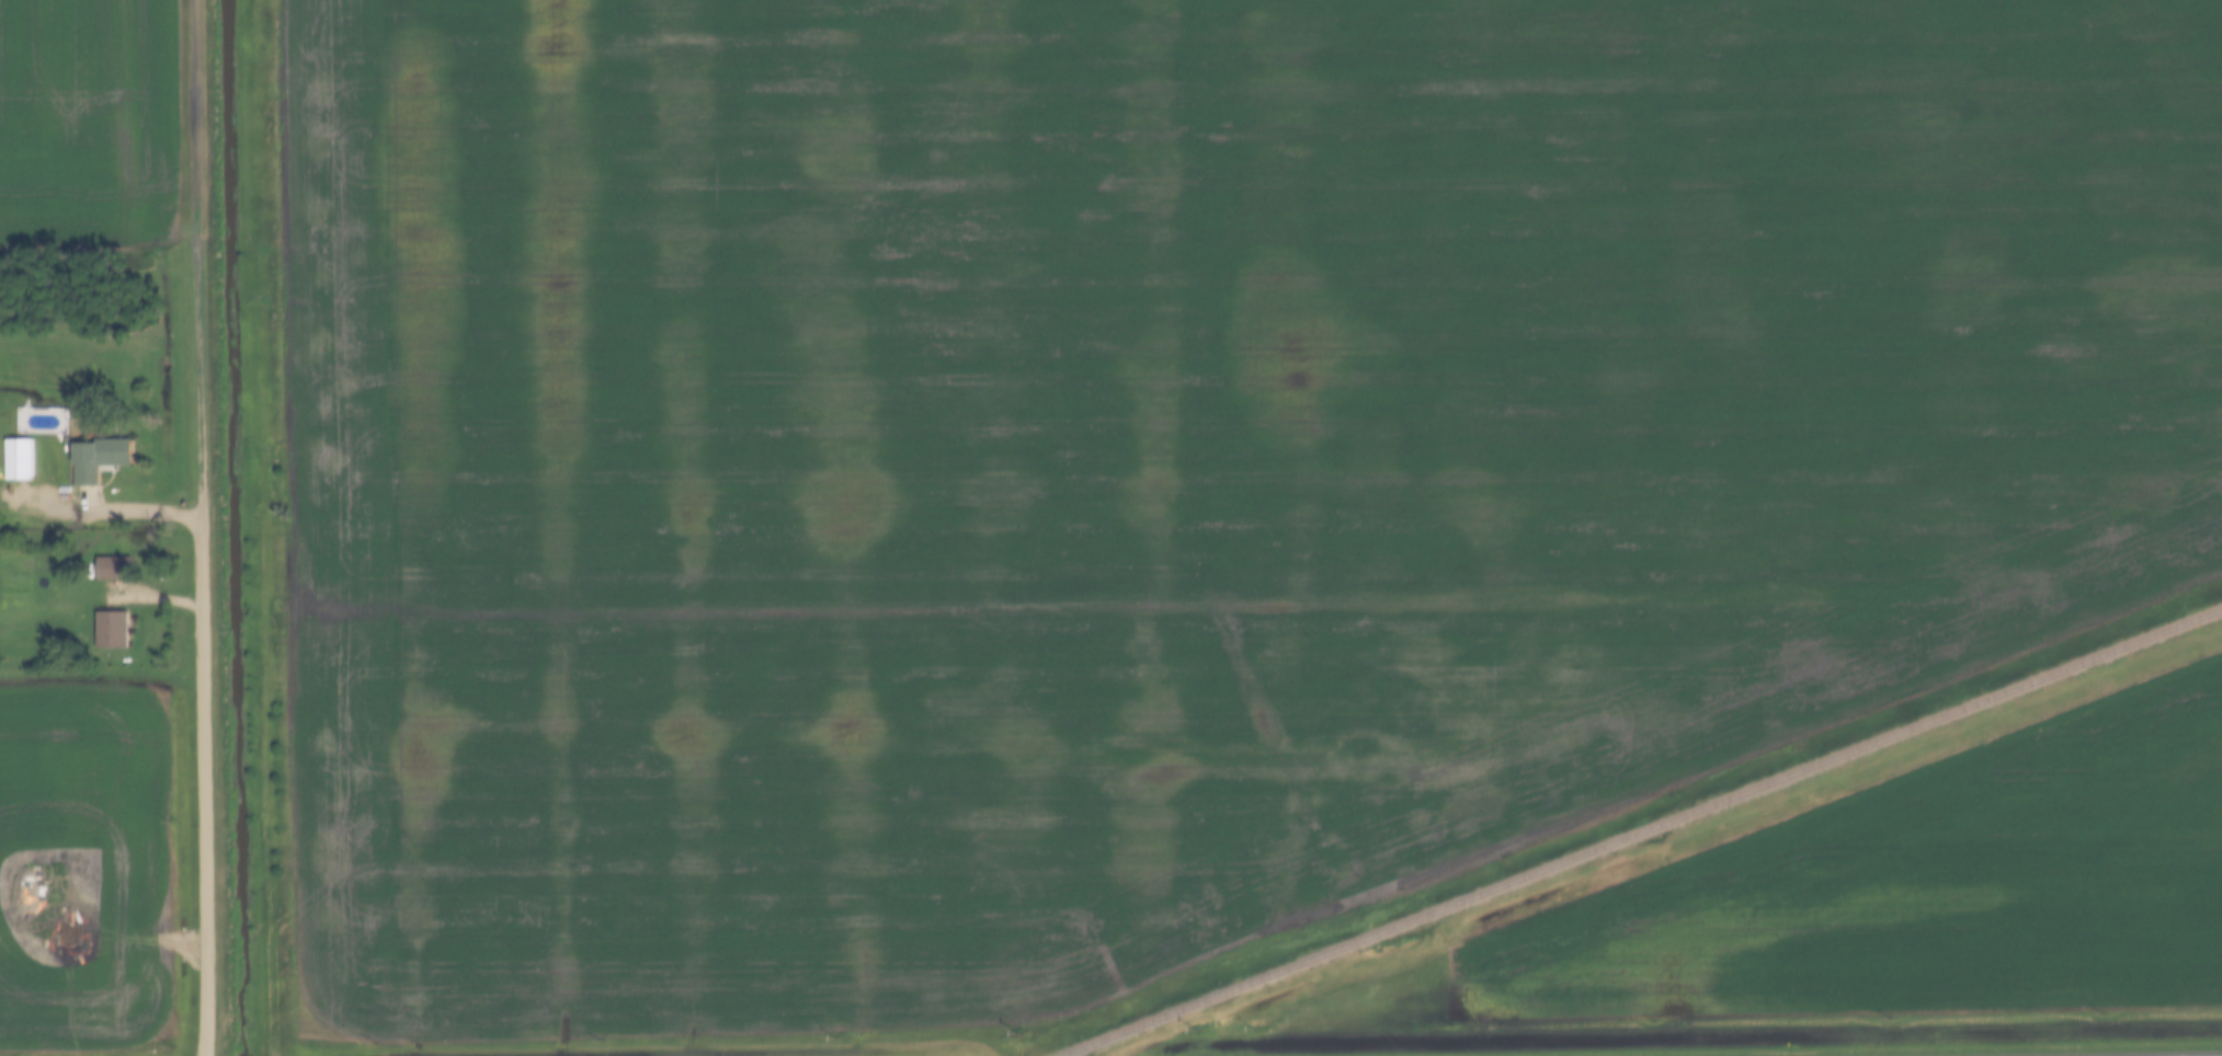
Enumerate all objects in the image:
road: (200, 256)
building: (102, 459)
building: (21, 460)
road: (115, 507)
building: (114, 630)
road: (204, 784)
railway: (1641, 833)

